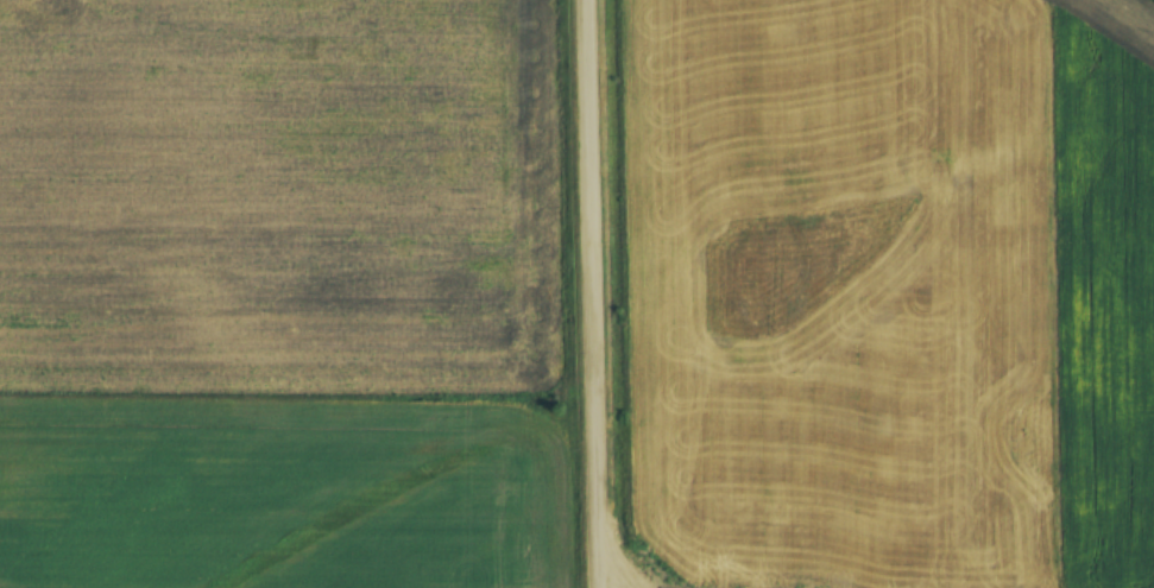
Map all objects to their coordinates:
road: (588, 293)

